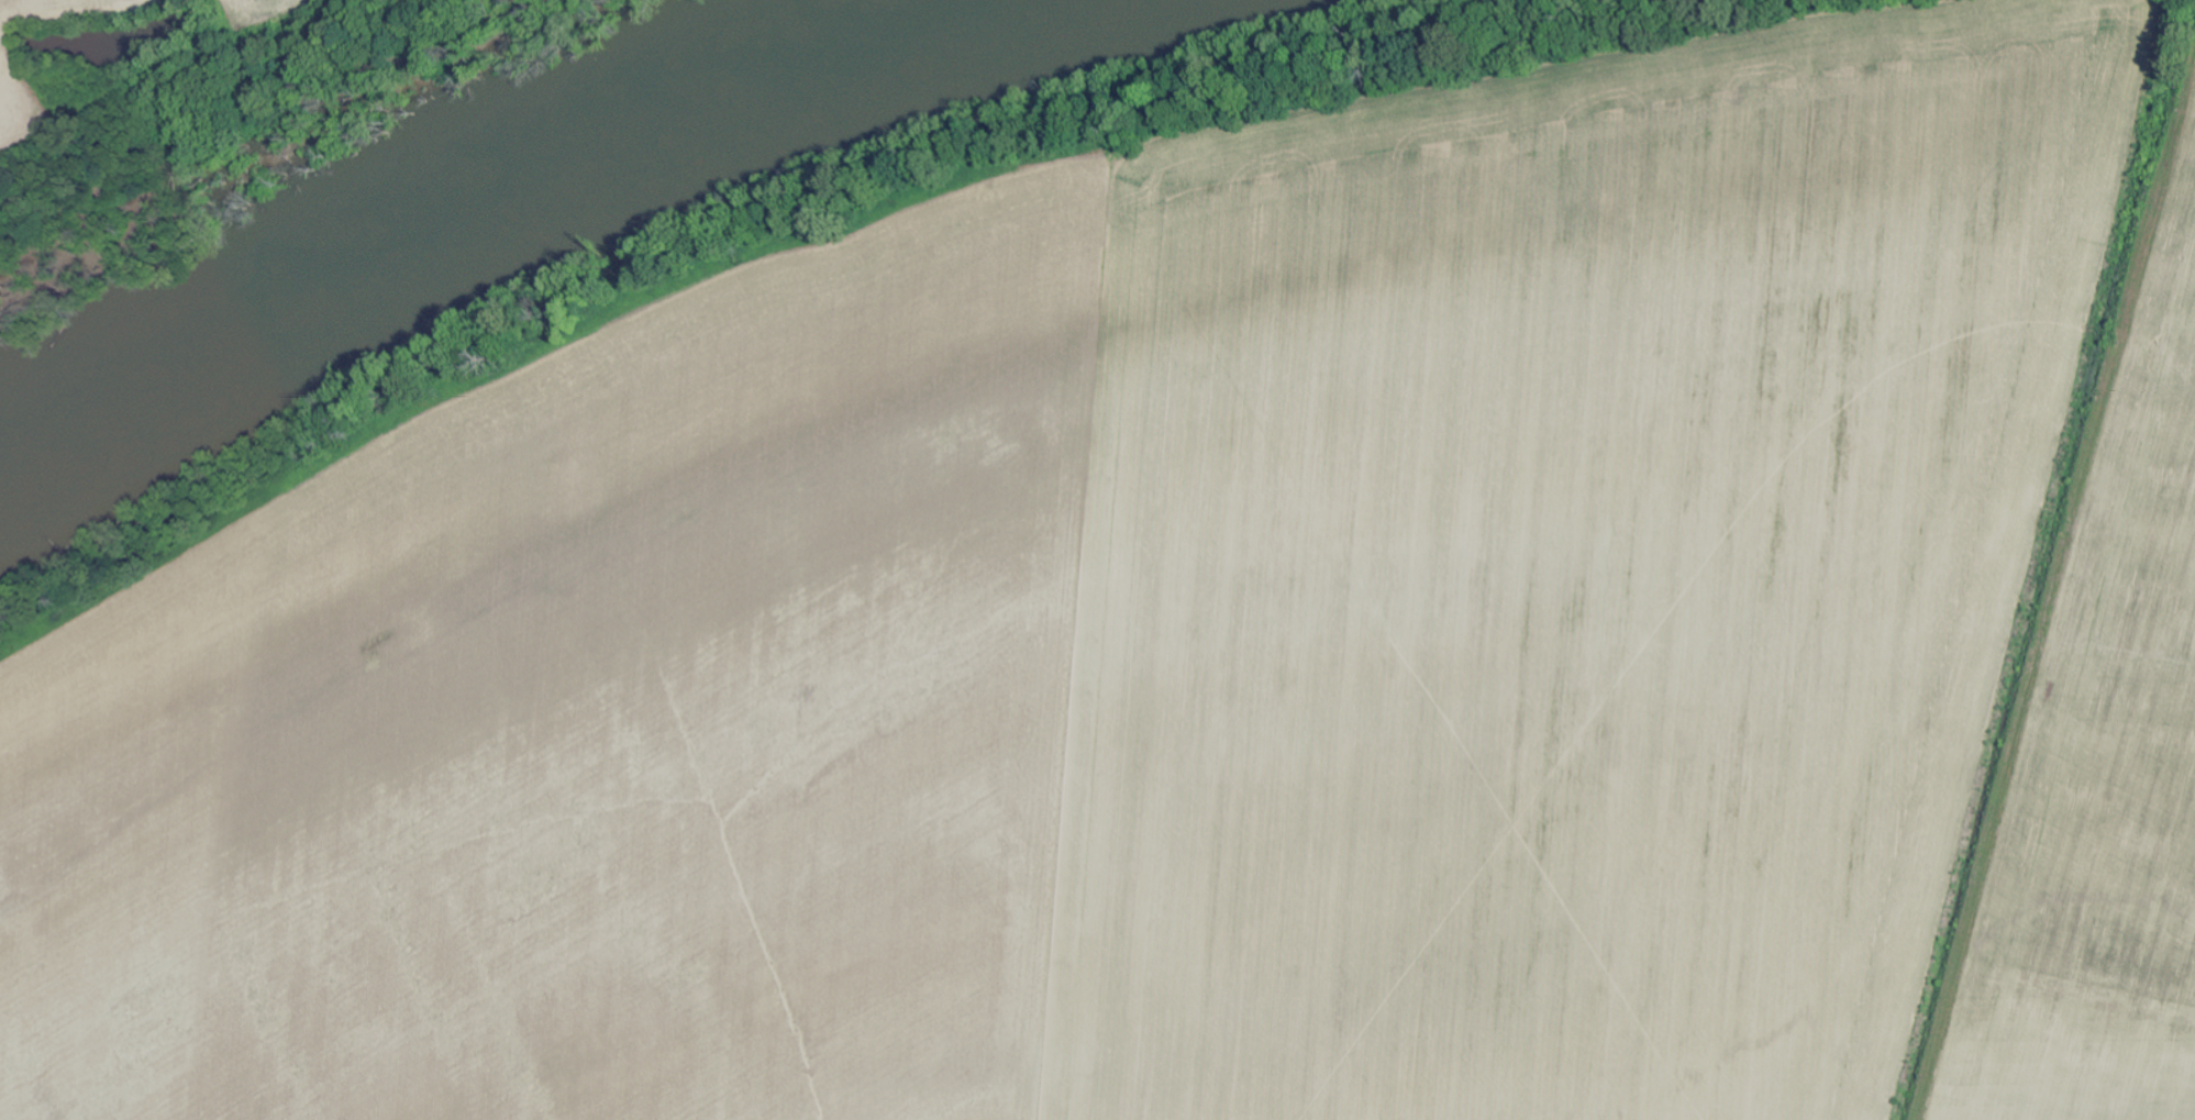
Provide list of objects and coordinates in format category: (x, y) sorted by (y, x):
river: (453, 179)

